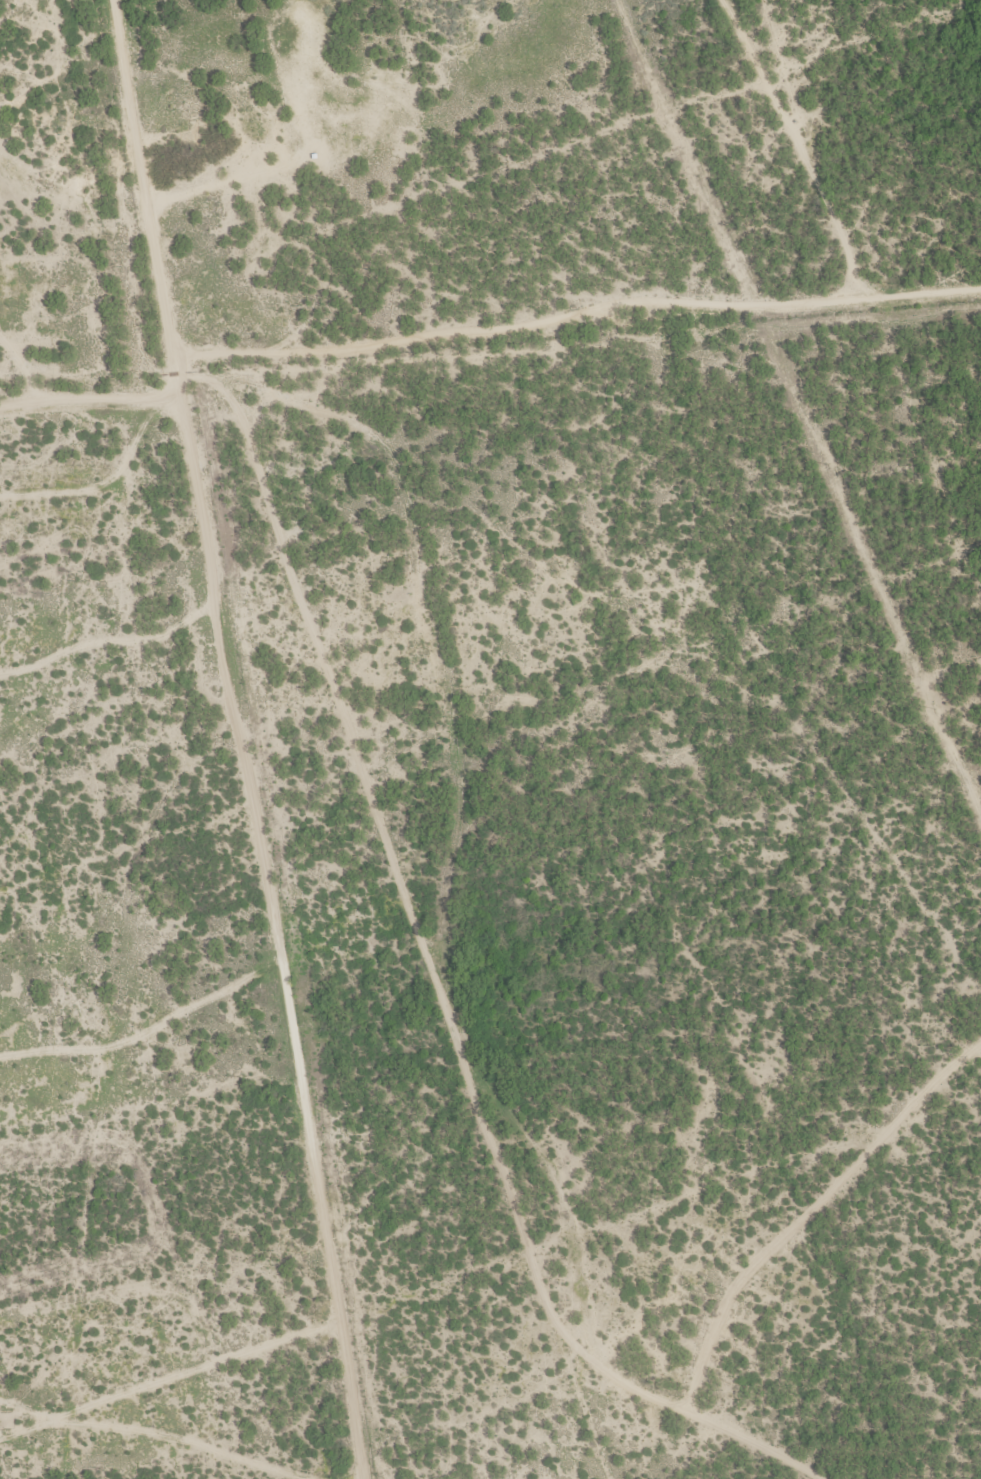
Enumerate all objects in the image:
road: (391, 356)
road: (454, 983)
road: (737, 1425)

